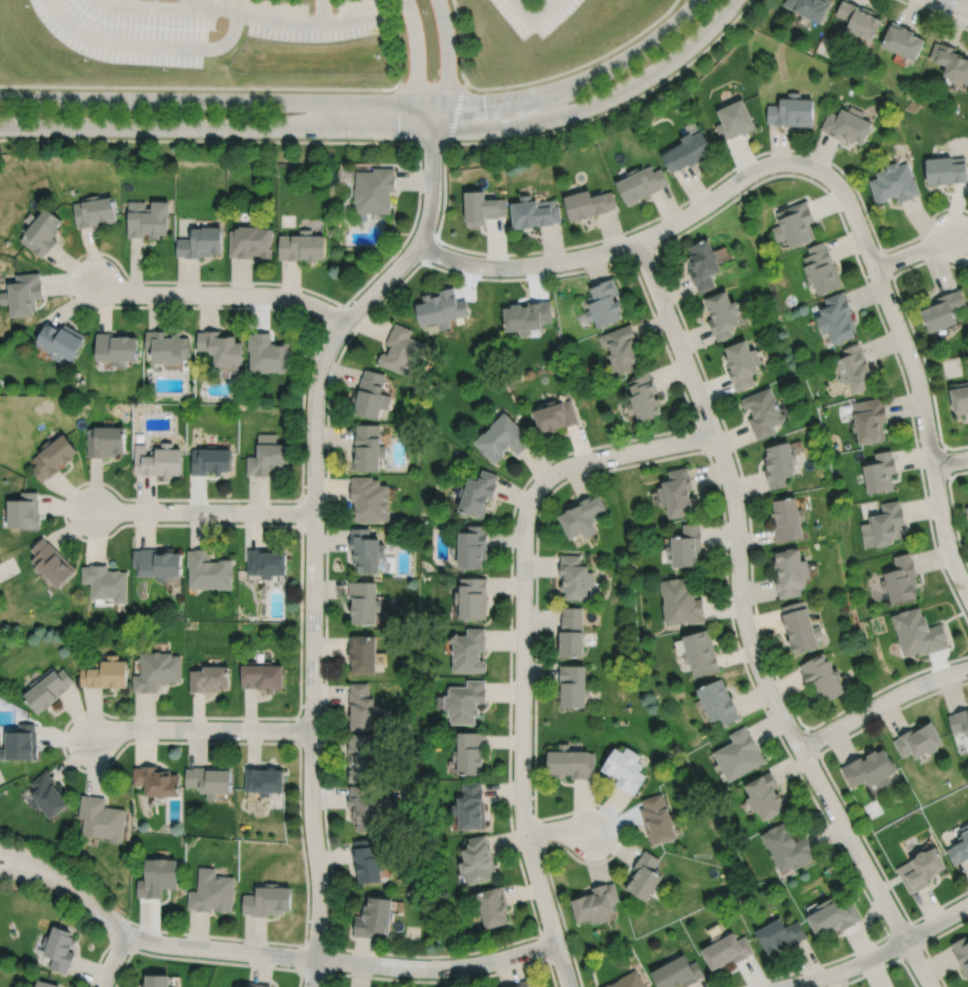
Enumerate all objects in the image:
road: (955, 5)
building: (809, 7)
street lamp: (26, 8)
road: (525, 10)
road: (545, 10)
road: (323, 12)
street lamp: (426, 12)
street lamp: (737, 12)
parking lot: (535, 14)
road: (934, 15)
street lamp: (942, 16)
parking lot: (285, 18)
building: (858, 18)
road: (260, 19)
road: (351, 21)
street lamp: (218, 30)
building: (902, 39)
road: (461, 41)
street lamp: (627, 46)
road: (418, 52)
road: (447, 52)
street lamp: (86, 60)
building: (950, 60)
road: (579, 66)
street lamp: (165, 69)
road: (432, 83)
street lamp: (651, 86)
road: (144, 87)
road: (345, 89)
street lamp: (505, 89)
street lamp: (112, 90)
street lamp: (248, 91)
street lamp: (369, 93)
road: (363, 101)
building: (790, 111)
road: (457, 113)
building: (732, 119)
building: (846, 124)
road: (387, 129)
street lamp: (522, 135)
street lamp: (79, 137)
street lamp: (200, 138)
street lamp: (325, 140)
street lamp: (405, 140)
road: (434, 143)
building: (686, 150)
building: (945, 169)
street lamp: (732, 173)
road: (432, 174)
street lamp: (840, 174)
building: (641, 183)
building: (893, 183)
building: (373, 190)
building: (588, 204)
building: (481, 207)
building: (94, 211)
building: (534, 212)
street lamp: (936, 216)
building: (147, 219)
building: (793, 223)
building: (41, 232)
street lamp: (434, 232)
street lamp: (631, 232)
building: (249, 241)
road: (634, 241)
building: (201, 242)
building: (300, 246)
road: (428, 251)
road: (914, 251)
road: (526, 252)
road: (641, 252)
road: (659, 261)
building: (701, 264)
road: (886, 266)
building: (820, 268)
street lamp: (123, 275)
street lamp: (498, 276)
street lamp: (867, 278)
road: (221, 293)
building: (22, 294)
building: (603, 303)
street lamp: (244, 304)
street lamp: (673, 304)
street lamp: (347, 305)
building: (440, 309)
building: (941, 310)
road: (652, 312)
building: (722, 314)
road: (334, 315)
building: (527, 317)
building: (835, 318)
road: (913, 333)
building: (59, 341)
building: (166, 345)
building: (220, 346)
building: (115, 348)
building: (621, 348)
building: (400, 351)
building: (268, 353)
street lamp: (921, 362)
building: (742, 364)
building: (854, 369)
road: (917, 381)
building: (370, 396)
building: (643, 397)
building: (959, 397)
building: (763, 412)
building: (554, 416)
street lamp: (697, 418)
building: (868, 420)
street lamp: (324, 421)
road: (702, 437)
building: (501, 438)
building: (104, 441)
building: (367, 449)
road: (620, 453)
building: (50, 456)
building: (267, 456)
building: (209, 460)
road: (949, 460)
building: (159, 461)
road: (942, 461)
street lamp: (615, 465)
road: (625, 465)
building: (780, 465)
building: (879, 473)
road: (112, 488)
street lamp: (526, 488)
street lamp: (927, 489)
building: (676, 493)
building: (476, 494)
building: (369, 499)
street lamp: (130, 500)
building: (22, 511)
road: (203, 511)
road: (301, 512)
street lamp: (726, 512)
road: (953, 512)
building: (967, 512)
building: (581, 518)
building: (788, 520)
street lamp: (237, 521)
building: (883, 526)
street lamp: (304, 533)
building: (686, 547)
building: (470, 548)
building: (366, 551)
building: (49, 563)
building: (156, 563)
building: (266, 563)
building: (208, 571)
building: (791, 573)
building: (574, 578)
building: (900, 579)
building: (104, 582)
street lamp: (954, 590)
road: (312, 597)
building: (471, 599)
building: (364, 602)
street lamp: (533, 602)
building: (681, 602)
street lamp: (752, 606)
road: (746, 626)
street lamp: (322, 629)
building: (801, 629)
building: (917, 631)
building: (570, 634)
building: (468, 650)
building: (363, 654)
building: (701, 654)
building: (155, 670)
building: (105, 673)
building: (262, 675)
building: (821, 677)
building: (209, 678)
building: (573, 684)
building: (48, 687)
street lamp: (929, 691)
building: (465, 699)
building: (719, 701)
road: (881, 703)
building: (361, 705)
street lamp: (767, 709)
street lamp: (532, 713)
street lamp: (235, 720)
building: (959, 720)
road: (298, 728)
road: (201, 729)
street lamp: (133, 739)
road: (810, 739)
building: (917, 739)
road: (522, 741)
building: (21, 742)
street lamp: (825, 746)
street lamp: (302, 747)
building: (470, 751)
building: (739, 753)
building: (362, 757)
building: (571, 761)
building: (626, 768)
building: (869, 768)
building: (211, 779)
building: (266, 779)
building: (157, 780)
road: (839, 793)
building: (47, 795)
building: (764, 795)
street lamp: (818, 799)
building: (470, 807)
building: (363, 808)
building: (100, 819)
building: (657, 819)
road: (557, 828)
road: (538, 833)
building: (787, 847)
building: (960, 847)
street lamp: (540, 851)
building: (477, 860)
building: (366, 862)
road: (41, 865)
building: (921, 869)
building: (643, 876)
road: (39, 877)
building: (156, 878)
street lamp: (329, 888)
building: (211, 892)
street lamp: (966, 894)
building: (267, 901)
building: (594, 904)
building: (492, 908)
road: (83, 910)
street lamp: (903, 916)
building: (834, 917)
building: (373, 918)
street lamp: (125, 921)
building: (780, 935)
road: (120, 942)
road: (924, 943)
road: (922, 945)
building: (60, 946)
road: (544, 946)
street lamp: (334, 950)
building: (726, 951)
building: (961, 951)
road: (879, 952)
road: (310, 957)
road: (113, 958)
street lamp: (217, 958)
street lamp: (454, 958)
street lamp: (890, 958)
road: (899, 958)
road: (204, 960)
street lamp: (571, 961)
road: (881, 966)
road: (326, 972)
building: (677, 973)
street lamp: (780, 978)
building: (157, 979)
road: (445, 980)
building: (627, 981)
building: (46, 983)
building: (254, 984)
building: (519, 984)

